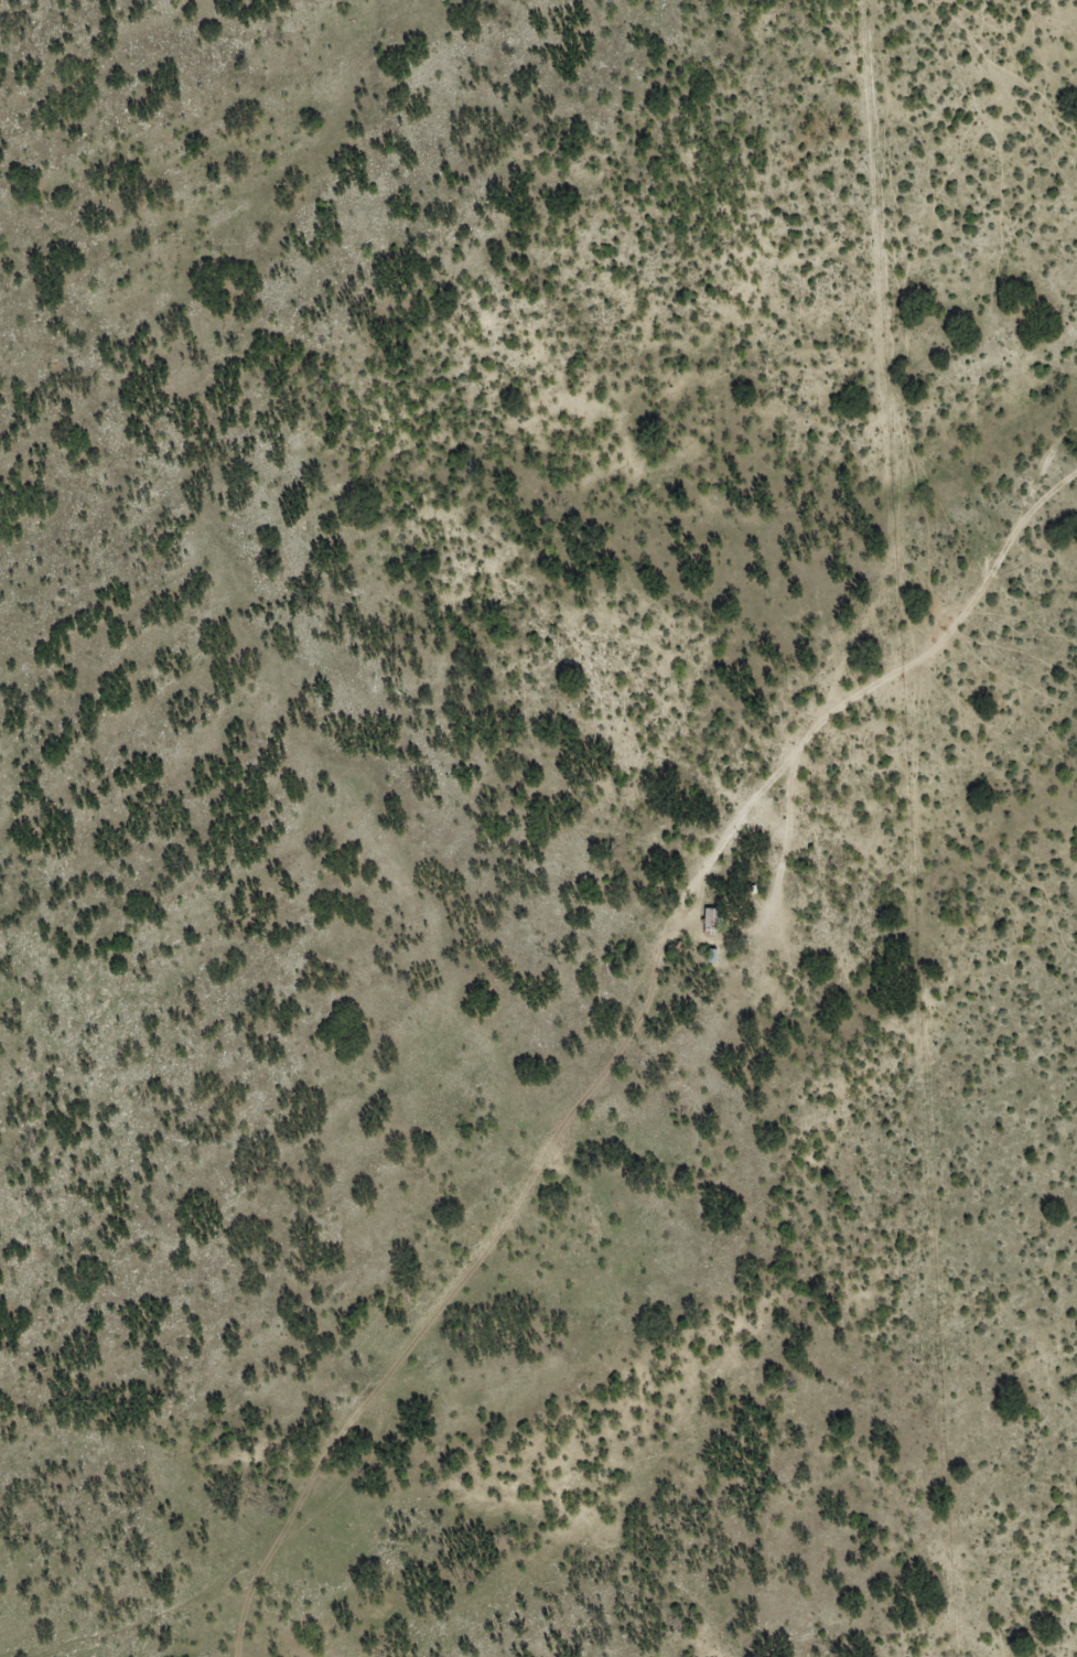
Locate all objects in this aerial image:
building: (713, 918)
road: (643, 1032)

